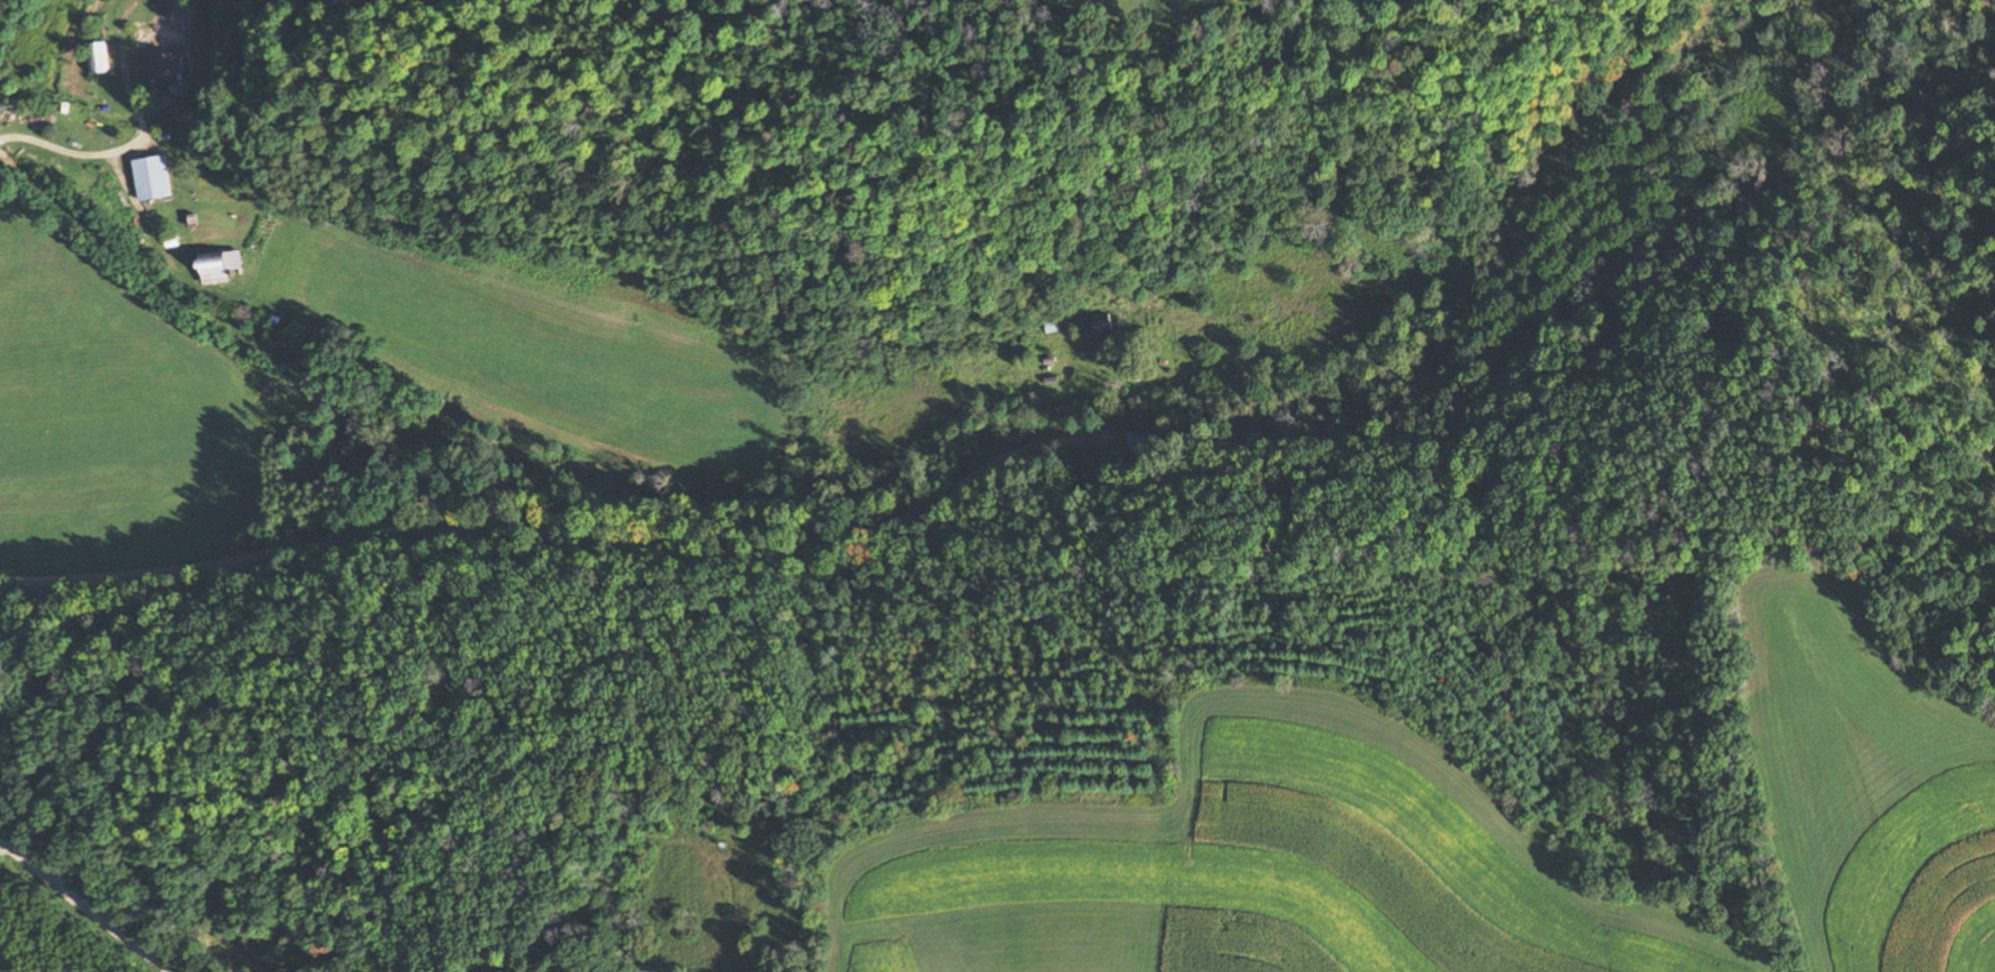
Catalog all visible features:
crop: (1151, 7)
building: (99, 59)
building: (168, 73)
road: (92, 154)
building: (153, 179)
building: (221, 267)
building: (1096, 326)
road: (568, 534)
crop: (1874, 792)
crop: (1265, 870)
road: (87, 903)

